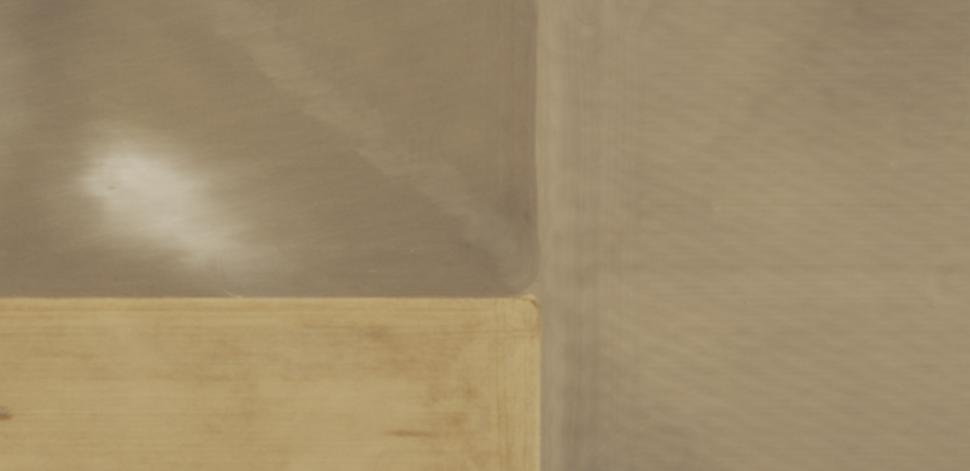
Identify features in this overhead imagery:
crop: (485, 235)

